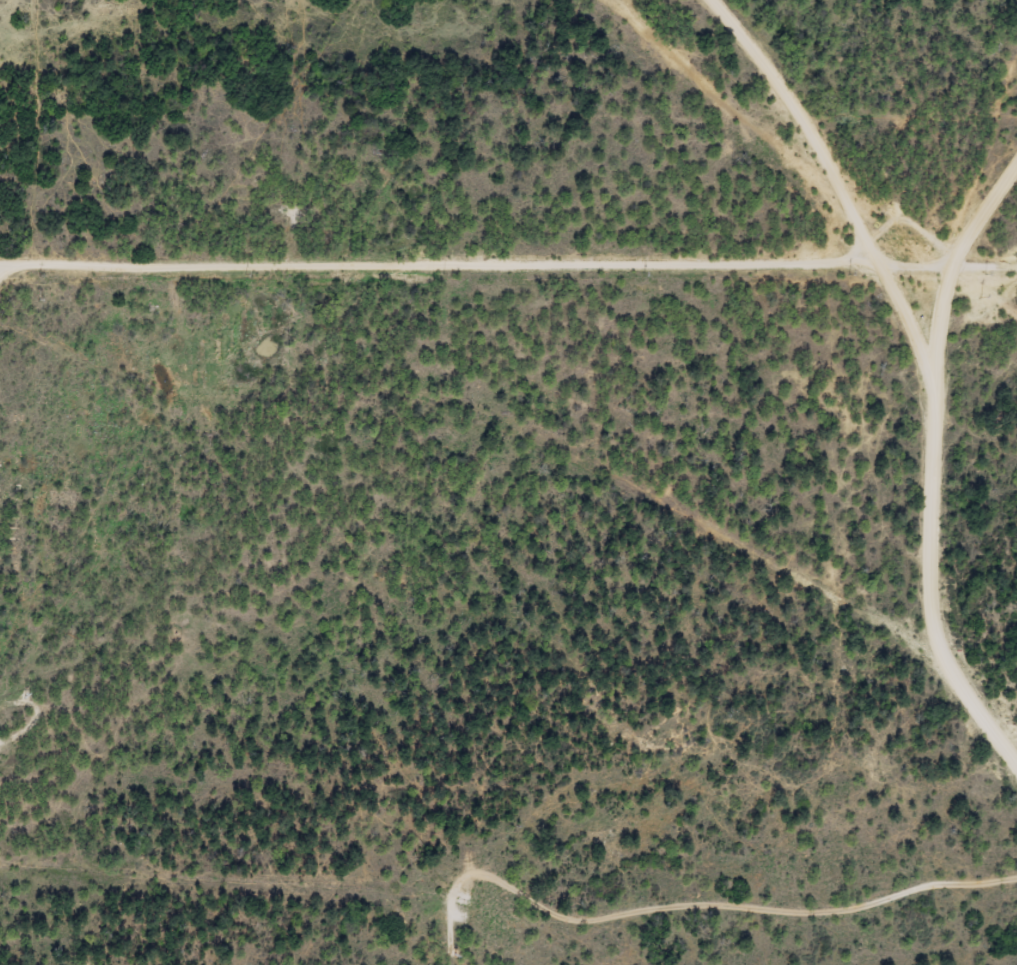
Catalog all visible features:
road: (884, 121)
road: (1009, 234)
road: (473, 289)
road: (492, 422)
road: (946, 482)
road: (735, 893)

